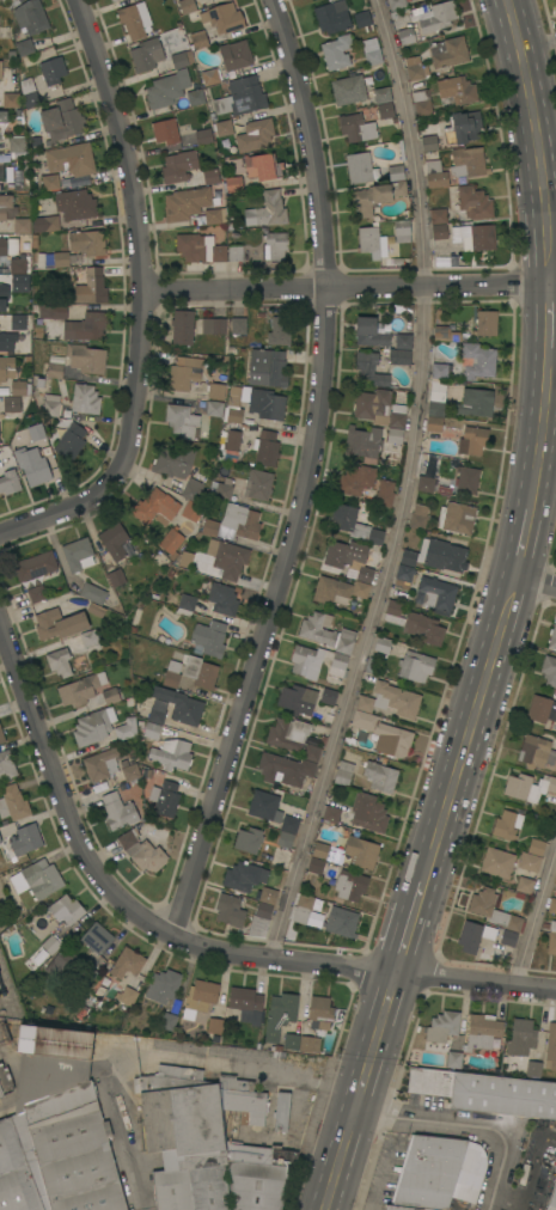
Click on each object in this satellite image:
building: (20, 0)
building: (110, 0)
building: (114, 0)
building: (187, 6)
building: (396, 7)
building: (31, 17)
building: (332, 17)
building: (436, 17)
building: (225, 18)
building: (134, 20)
building: (362, 20)
building: (405, 36)
building: (198, 39)
road: (537, 45)
building: (24, 47)
building: (336, 51)
building: (371, 51)
building: (450, 51)
building: (146, 54)
building: (234, 55)
building: (182, 59)
building: (415, 68)
building: (1, 69)
building: (53, 71)
building: (210, 75)
building: (167, 88)
building: (349, 90)
building: (457, 90)
building: (29, 92)
building: (383, 94)
building: (195, 97)
building: (242, 97)
building: (11, 100)
building: (422, 102)
building: (385, 110)
building: (2, 120)
building: (62, 120)
building: (224, 127)
building: (463, 127)
building: (356, 128)
building: (166, 130)
building: (255, 135)
building: (203, 136)
road: (410, 141)
building: (429, 142)
building: (17, 145)
road: (122, 145)
building: (72, 159)
building: (468, 161)
building: (178, 166)
building: (256, 166)
building: (360, 167)
building: (396, 172)
building: (435, 173)
building: (209, 176)
building: (50, 181)
building: (233, 184)
building: (377, 196)
building: (473, 202)
building: (185, 203)
building: (5, 204)
building: (77, 204)
building: (267, 210)
building: (213, 215)
building: (438, 215)
building: (45, 224)
building: (23, 225)
building: (402, 231)
building: (440, 231)
building: (473, 236)
building: (371, 240)
building: (87, 242)
building: (4, 245)
building: (275, 245)
building: (191, 247)
building: (236, 252)
building: (219, 253)
building: (441, 258)
building: (61, 259)
building: (20, 264)
building: (90, 286)
road: (346, 286)
building: (4, 293)
building: (59, 311)
building: (18, 322)
building: (485, 322)
building: (238, 324)
building: (214, 325)
building: (86, 326)
building: (182, 326)
building: (279, 331)
building: (369, 332)
building: (446, 334)
building: (402, 341)
building: (1, 342)
building: (399, 356)
building: (86, 357)
building: (477, 360)
building: (55, 365)
building: (6, 367)
building: (267, 368)
building: (369, 368)
building: (439, 371)
building: (184, 373)
building: (20, 387)
building: (216, 390)
road: (550, 396)
building: (85, 398)
building: (436, 398)
building: (475, 402)
building: (12, 403)
building: (51, 404)
building: (267, 404)
building: (233, 405)
building: (214, 408)
building: (379, 408)
building: (182, 420)
building: (434, 423)
building: (37, 432)
road: (543, 434)
building: (395, 435)
building: (232, 440)
building: (472, 440)
building: (71, 441)
building: (0, 442)
building: (363, 442)
road: (123, 448)
building: (265, 448)
building: (173, 462)
building: (32, 465)
road: (304, 475)
building: (356, 479)
building: (468, 479)
building: (10, 482)
building: (259, 483)
building: (424, 483)
building: (193, 489)
building: (224, 490)
building: (385, 493)
building: (155, 507)
building: (191, 511)
building: (418, 517)
building: (457, 518)
building: (236, 521)
building: (355, 524)
building: (114, 540)
building: (171, 540)
building: (344, 554)
building: (78, 555)
building: (435, 555)
building: (227, 558)
building: (187, 560)
building: (35, 566)
building: (365, 574)
building: (404, 576)
building: (116, 577)
road: (534, 580)
building: (360, 589)
building: (331, 591)
building: (37, 593)
building: (92, 593)
building: (438, 593)
building: (221, 598)
building: (185, 604)
building: (96, 609)
building: (393, 612)
building: (59, 623)
road: (365, 627)
building: (423, 628)
building: (326, 632)
building: (552, 636)
building: (209, 637)
building: (91, 641)
building: (383, 644)
building: (59, 661)
building: (317, 661)
building: (415, 666)
building: (549, 670)
building: (201, 672)
building: (171, 673)
building: (80, 689)
building: (111, 695)
building: (328, 696)
building: (298, 699)
building: (397, 699)
building: (365, 703)
building: (181, 705)
building: (542, 709)
building: (157, 711)
building: (93, 726)
building: (126, 729)
building: (151, 731)
building: (288, 734)
building: (384, 734)
building: (1, 735)
building: (536, 751)
building: (311, 752)
building: (171, 753)
building: (102, 764)
building: (6, 765)
building: (282, 765)
building: (129, 770)
building: (344, 772)
building: (380, 776)
building: (528, 787)
building: (165, 797)
road: (61, 801)
building: (13, 802)
building: (264, 806)
building: (117, 811)
building: (368, 812)
building: (331, 814)
building: (289, 824)
building: (507, 824)
building: (0, 839)
building: (249, 839)
building: (285, 839)
building: (23, 841)
building: (536, 847)
building: (141, 850)
building: (325, 851)
building: (361, 851)
building: (497, 862)
building: (528, 862)
building: (322, 867)
building: (244, 876)
building: (42, 878)
building: (350, 885)
building: (525, 885)
building: (268, 896)
building: (519, 896)
building: (551, 905)
building: (303, 907)
building: (66, 910)
building: (230, 910)
building: (494, 910)
road: (411, 913)
road: (536, 917)
building: (259, 919)
building: (341, 922)
building: (473, 935)
building: (96, 937)
building: (508, 937)
building: (551, 939)
building: (51, 945)
building: (66, 962)
building: (127, 962)
road: (365, 967)
building: (164, 985)
road: (387, 995)
building: (128, 996)
building: (200, 998)
building: (244, 1002)
building: (280, 1014)
building: (167, 1021)
building: (316, 1022)
building: (215, 1025)
building: (442, 1026)
building: (483, 1032)
building: (520, 1038)
building: (291, 1041)
road: (375, 1041)
building: (551, 1047)
building: (453, 1058)
road: (255, 1059)
building: (50, 1061)
building: (533, 1070)
building: (179, 1071)
road: (362, 1088)
building: (487, 1092)
building: (1, 1093)
building: (242, 1099)
building: (281, 1112)
road: (123, 1129)
road: (471, 1130)
building: (184, 1142)
building: (74, 1150)
road: (341, 1162)
building: (19, 1166)
road: (384, 1172)
building: (438, 1172)
building: (257, 1175)
road: (356, 1190)
building: (552, 1198)
building: (405, 1208)

